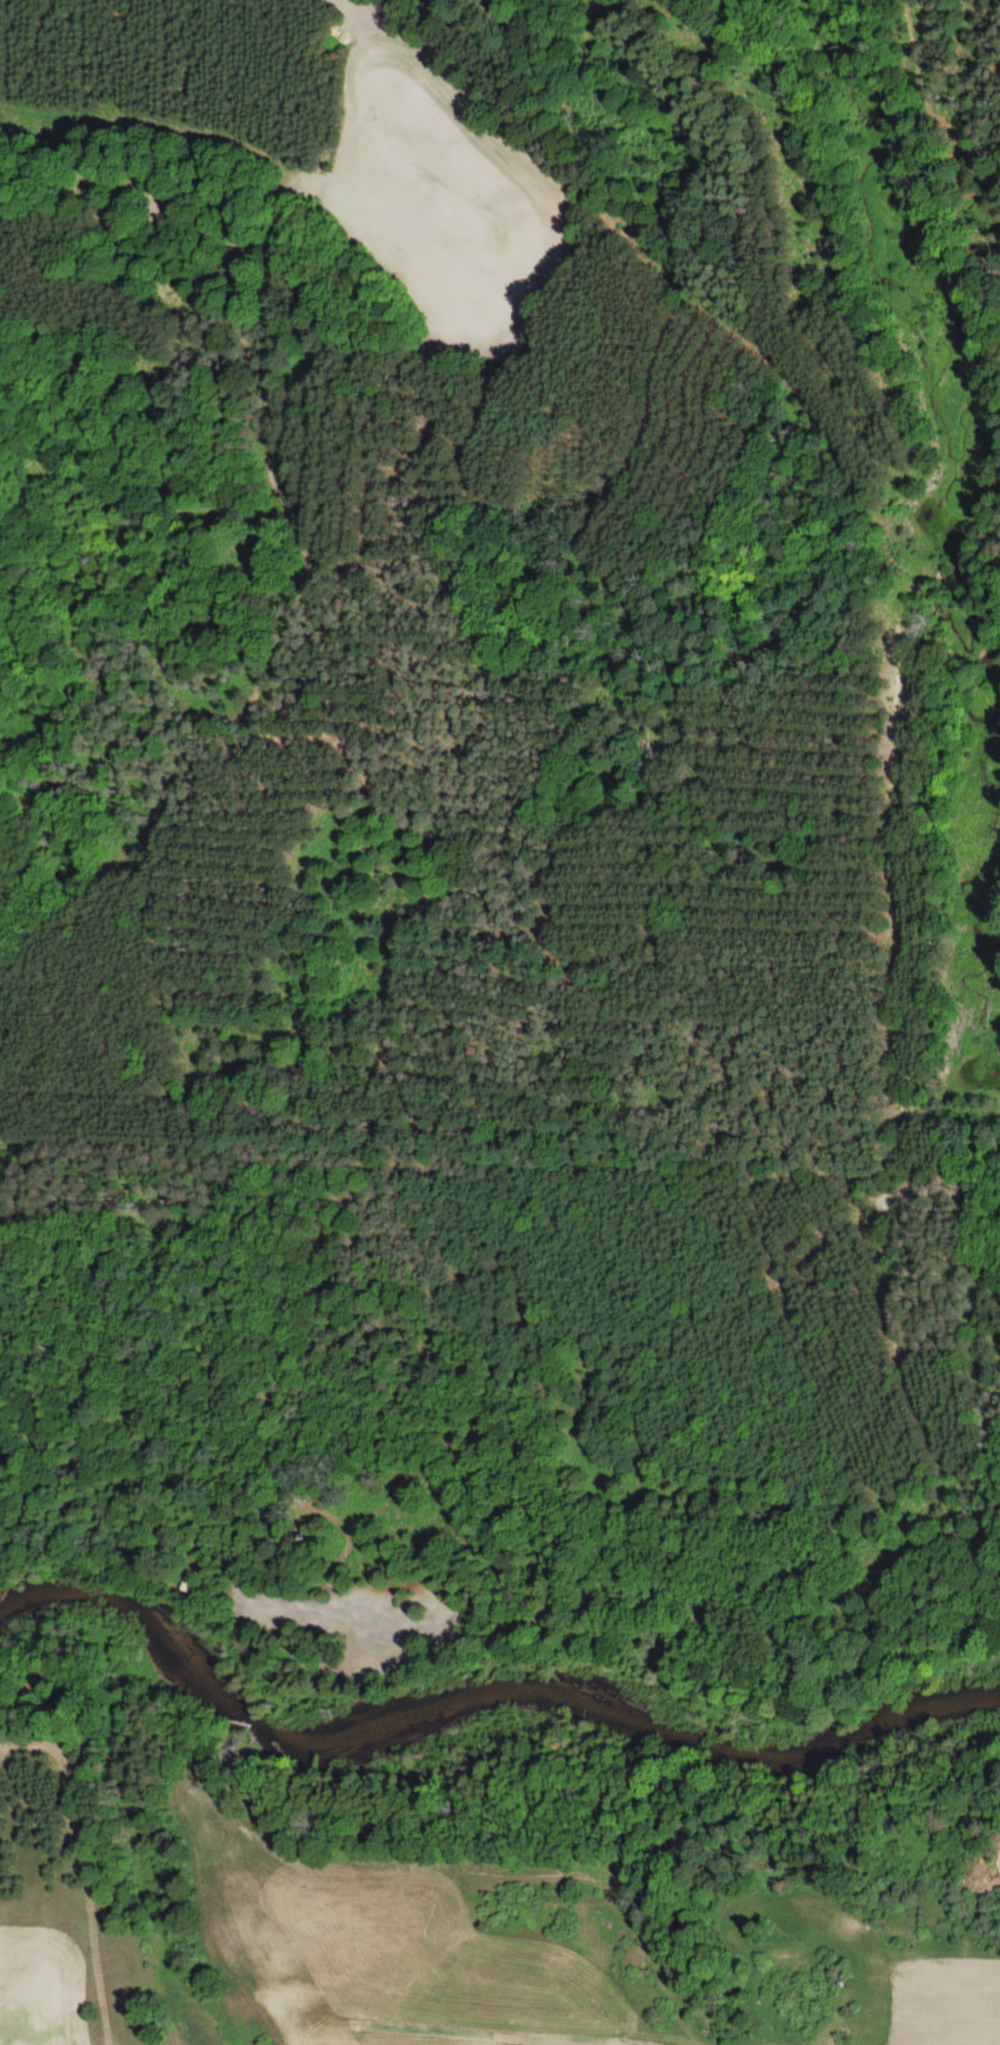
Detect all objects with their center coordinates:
river: (480, 1700)

